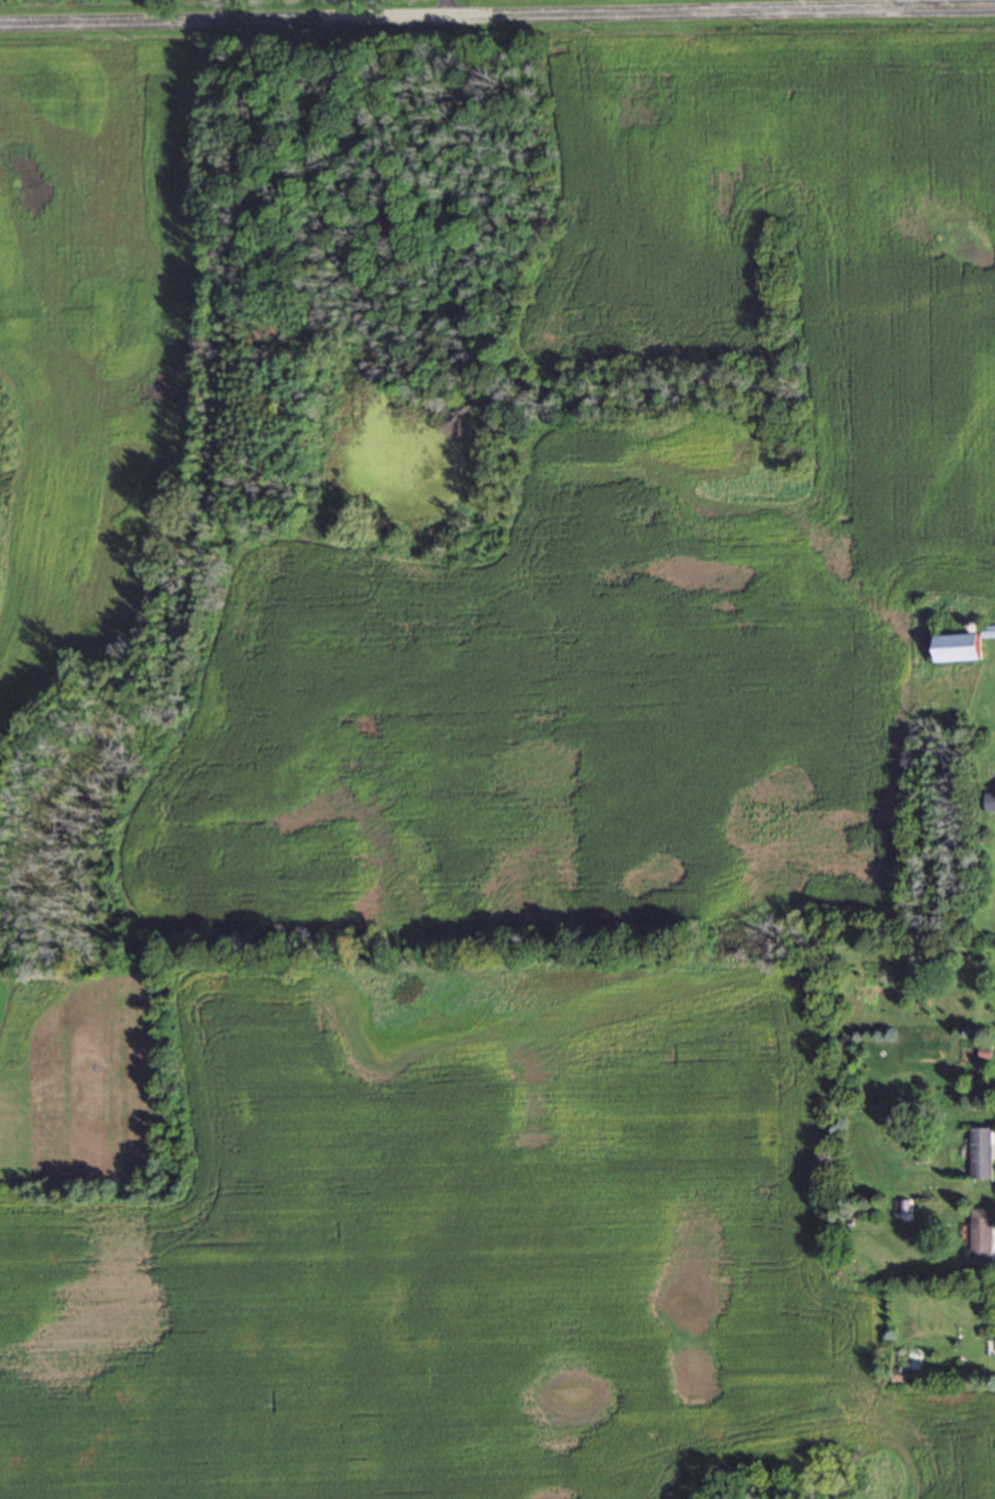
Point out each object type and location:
road: (442, 6)
road: (497, 12)
building: (965, 644)
building: (989, 800)
building: (981, 1152)
building: (981, 1233)

